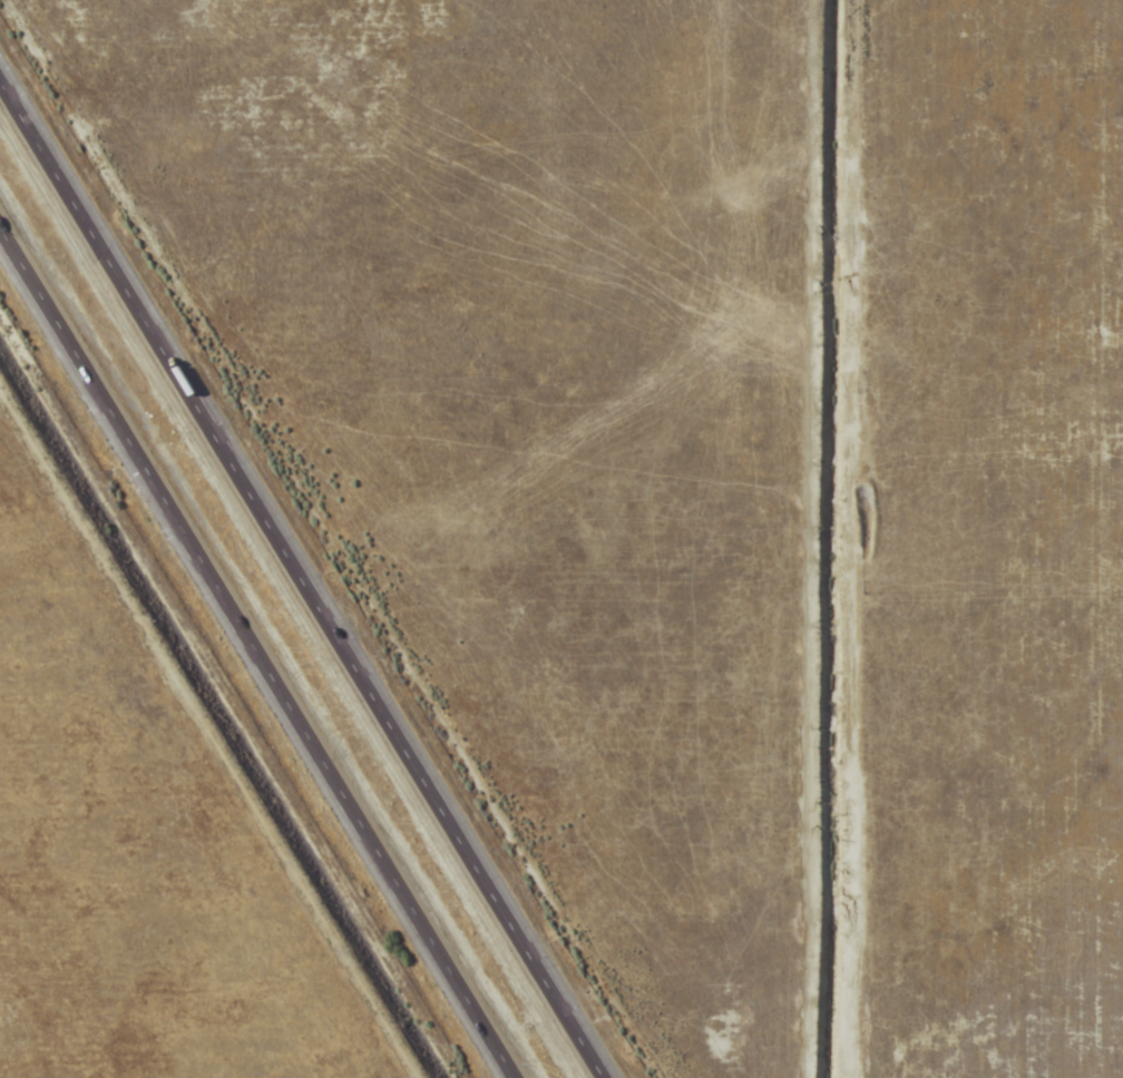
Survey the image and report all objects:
road: (302, 577)
road: (257, 651)

